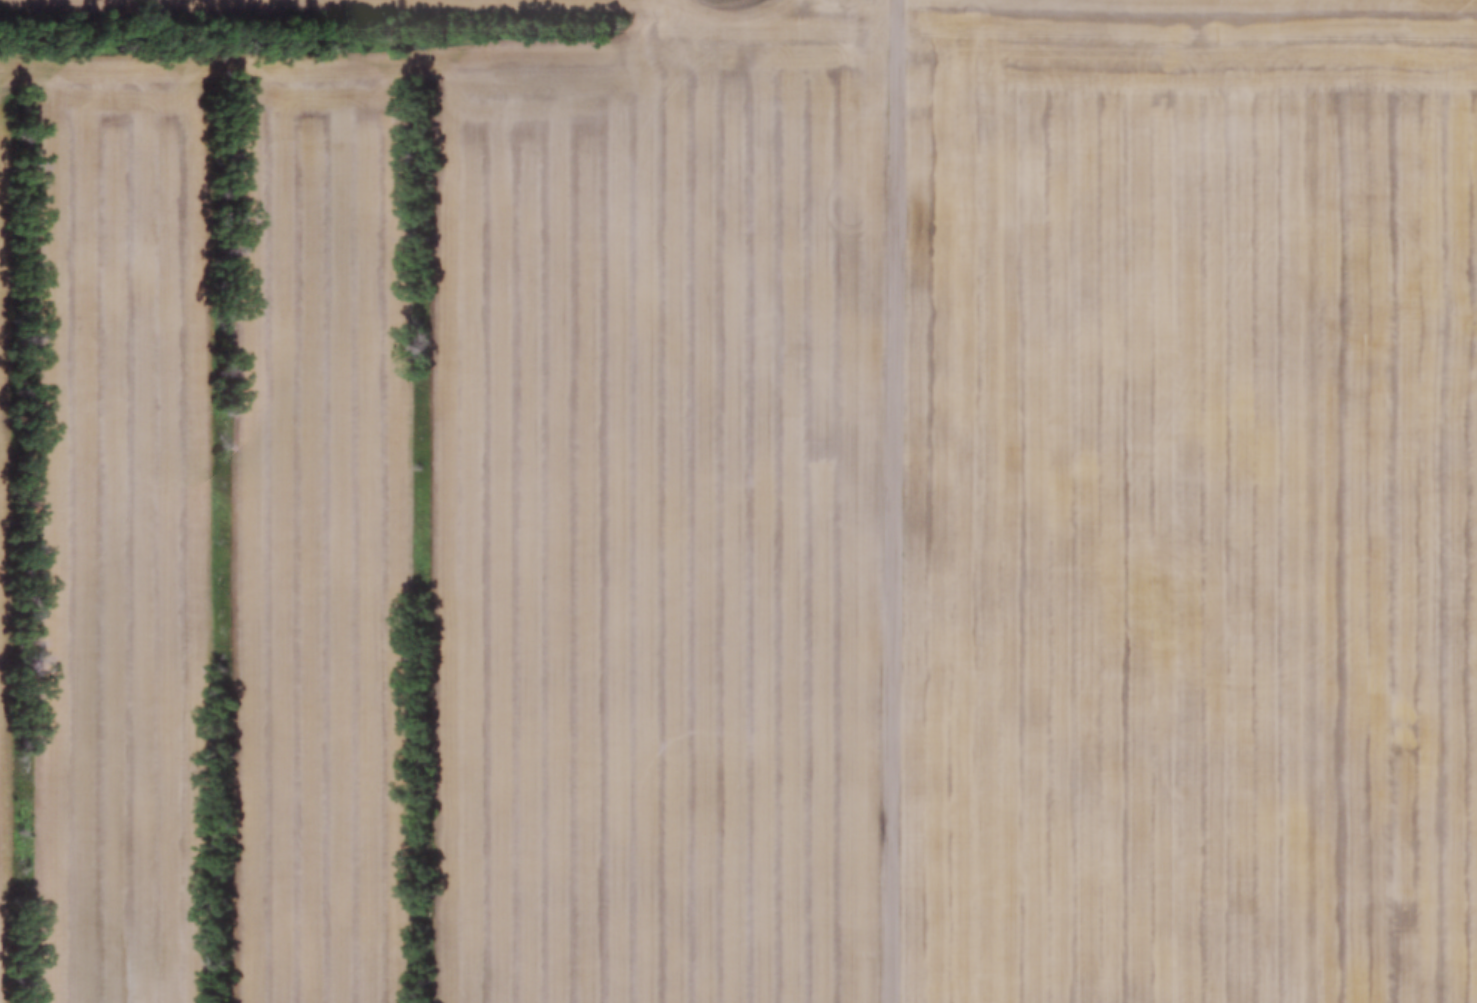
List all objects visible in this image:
road: (893, 501)

